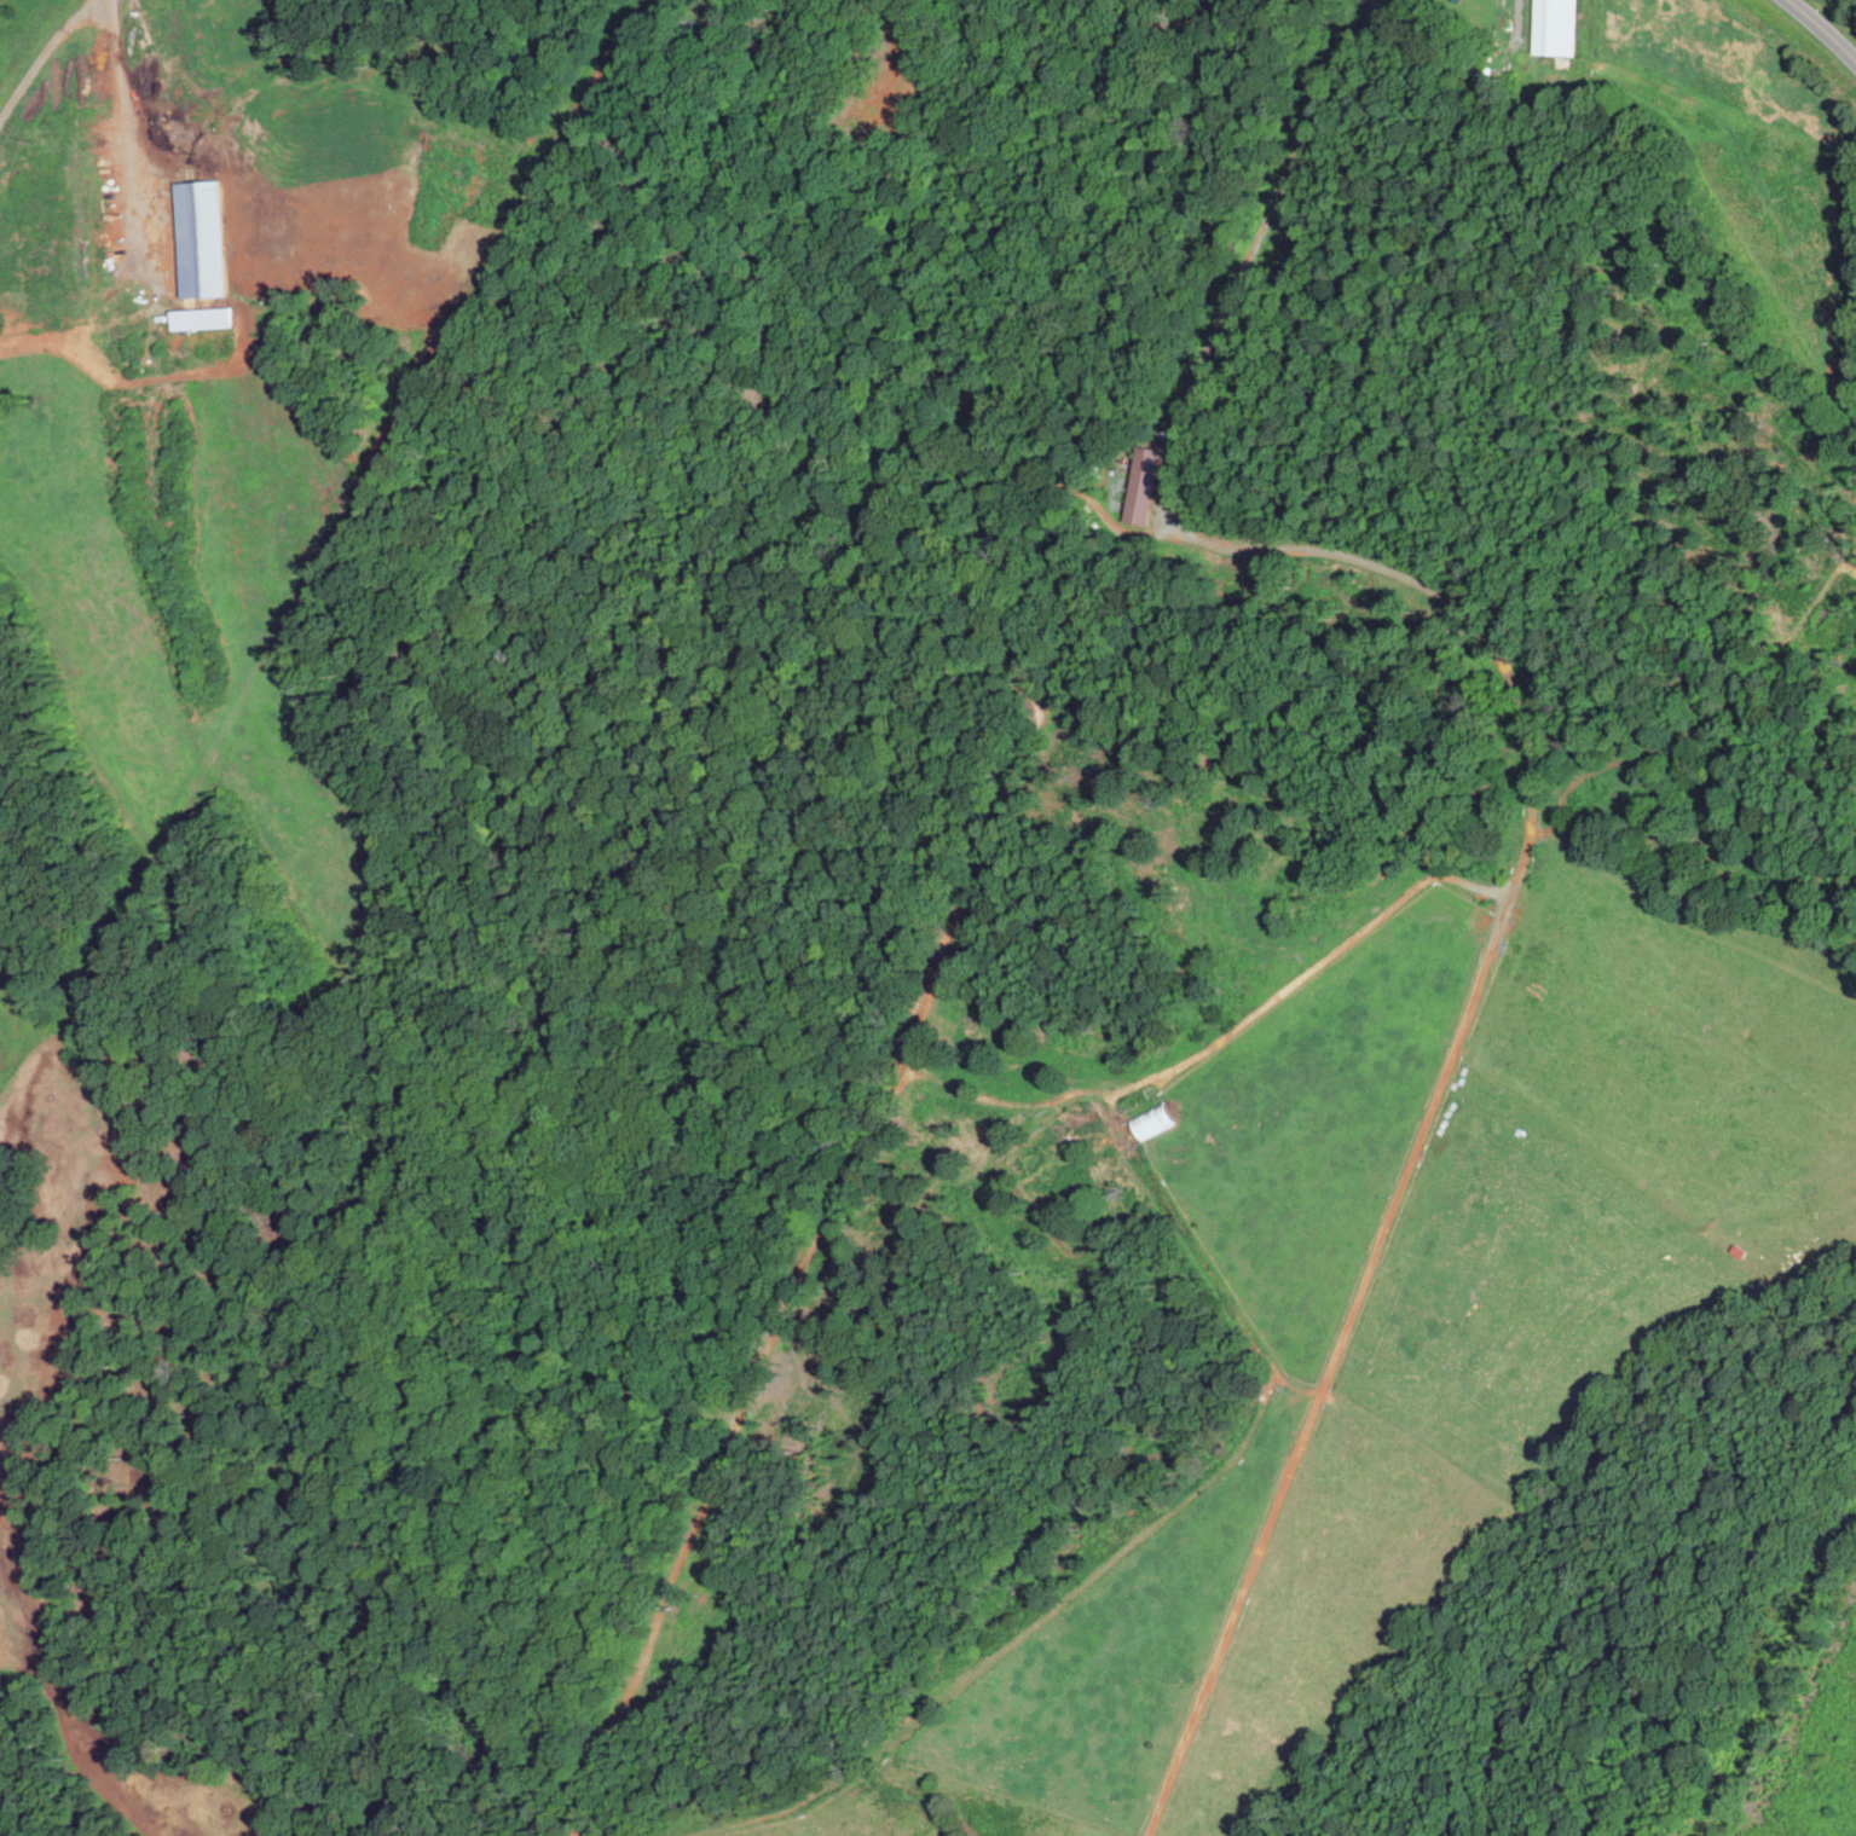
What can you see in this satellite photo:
road: (1519, 23)
building: (1553, 28)
road: (1822, 29)
road: (45, 53)
road: (123, 95)
building: (200, 237)
building: (201, 317)
building: (1144, 485)
crop: (1415, 1285)
crop: (1782, 1657)
crop: (572, 1835)

